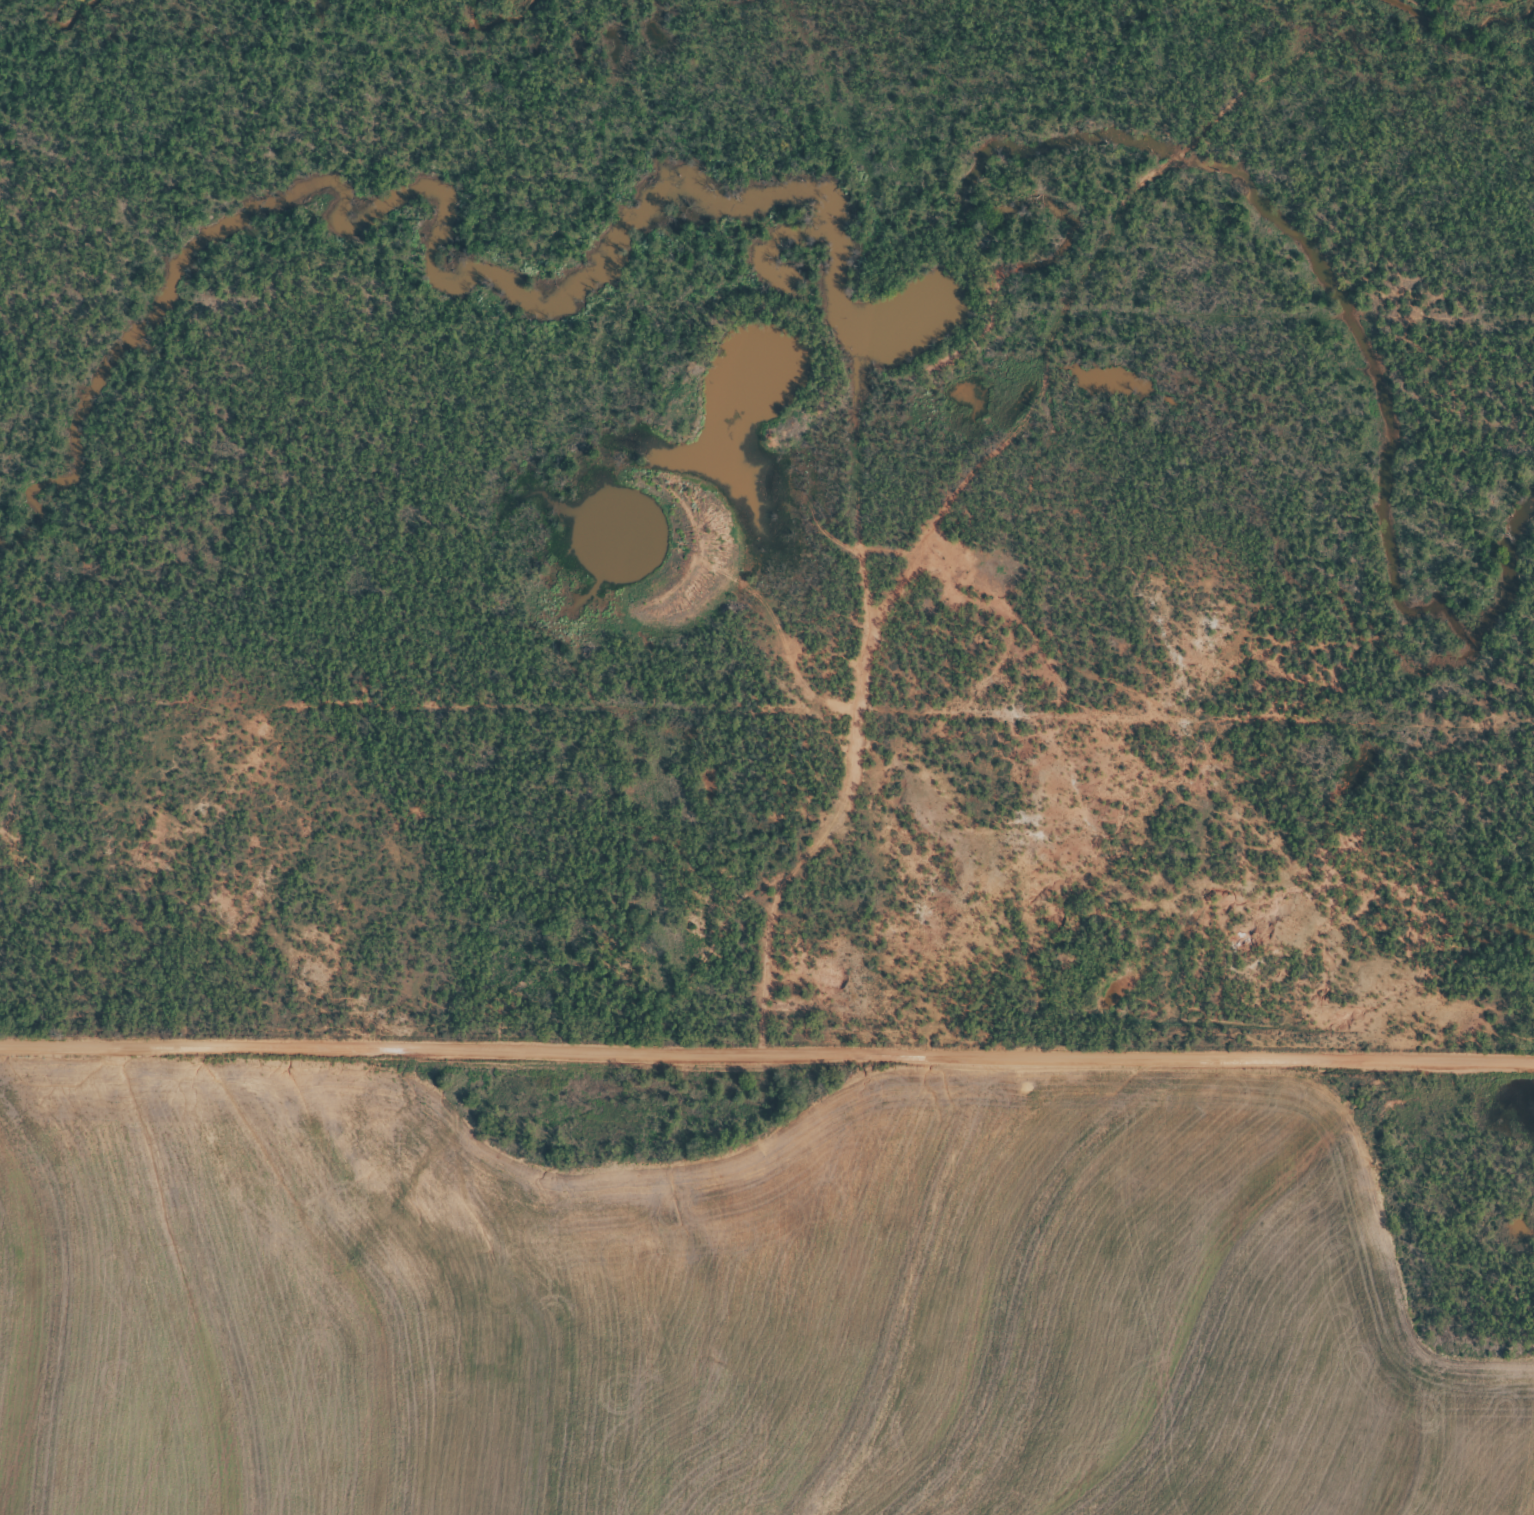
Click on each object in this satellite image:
road: (766, 1076)

